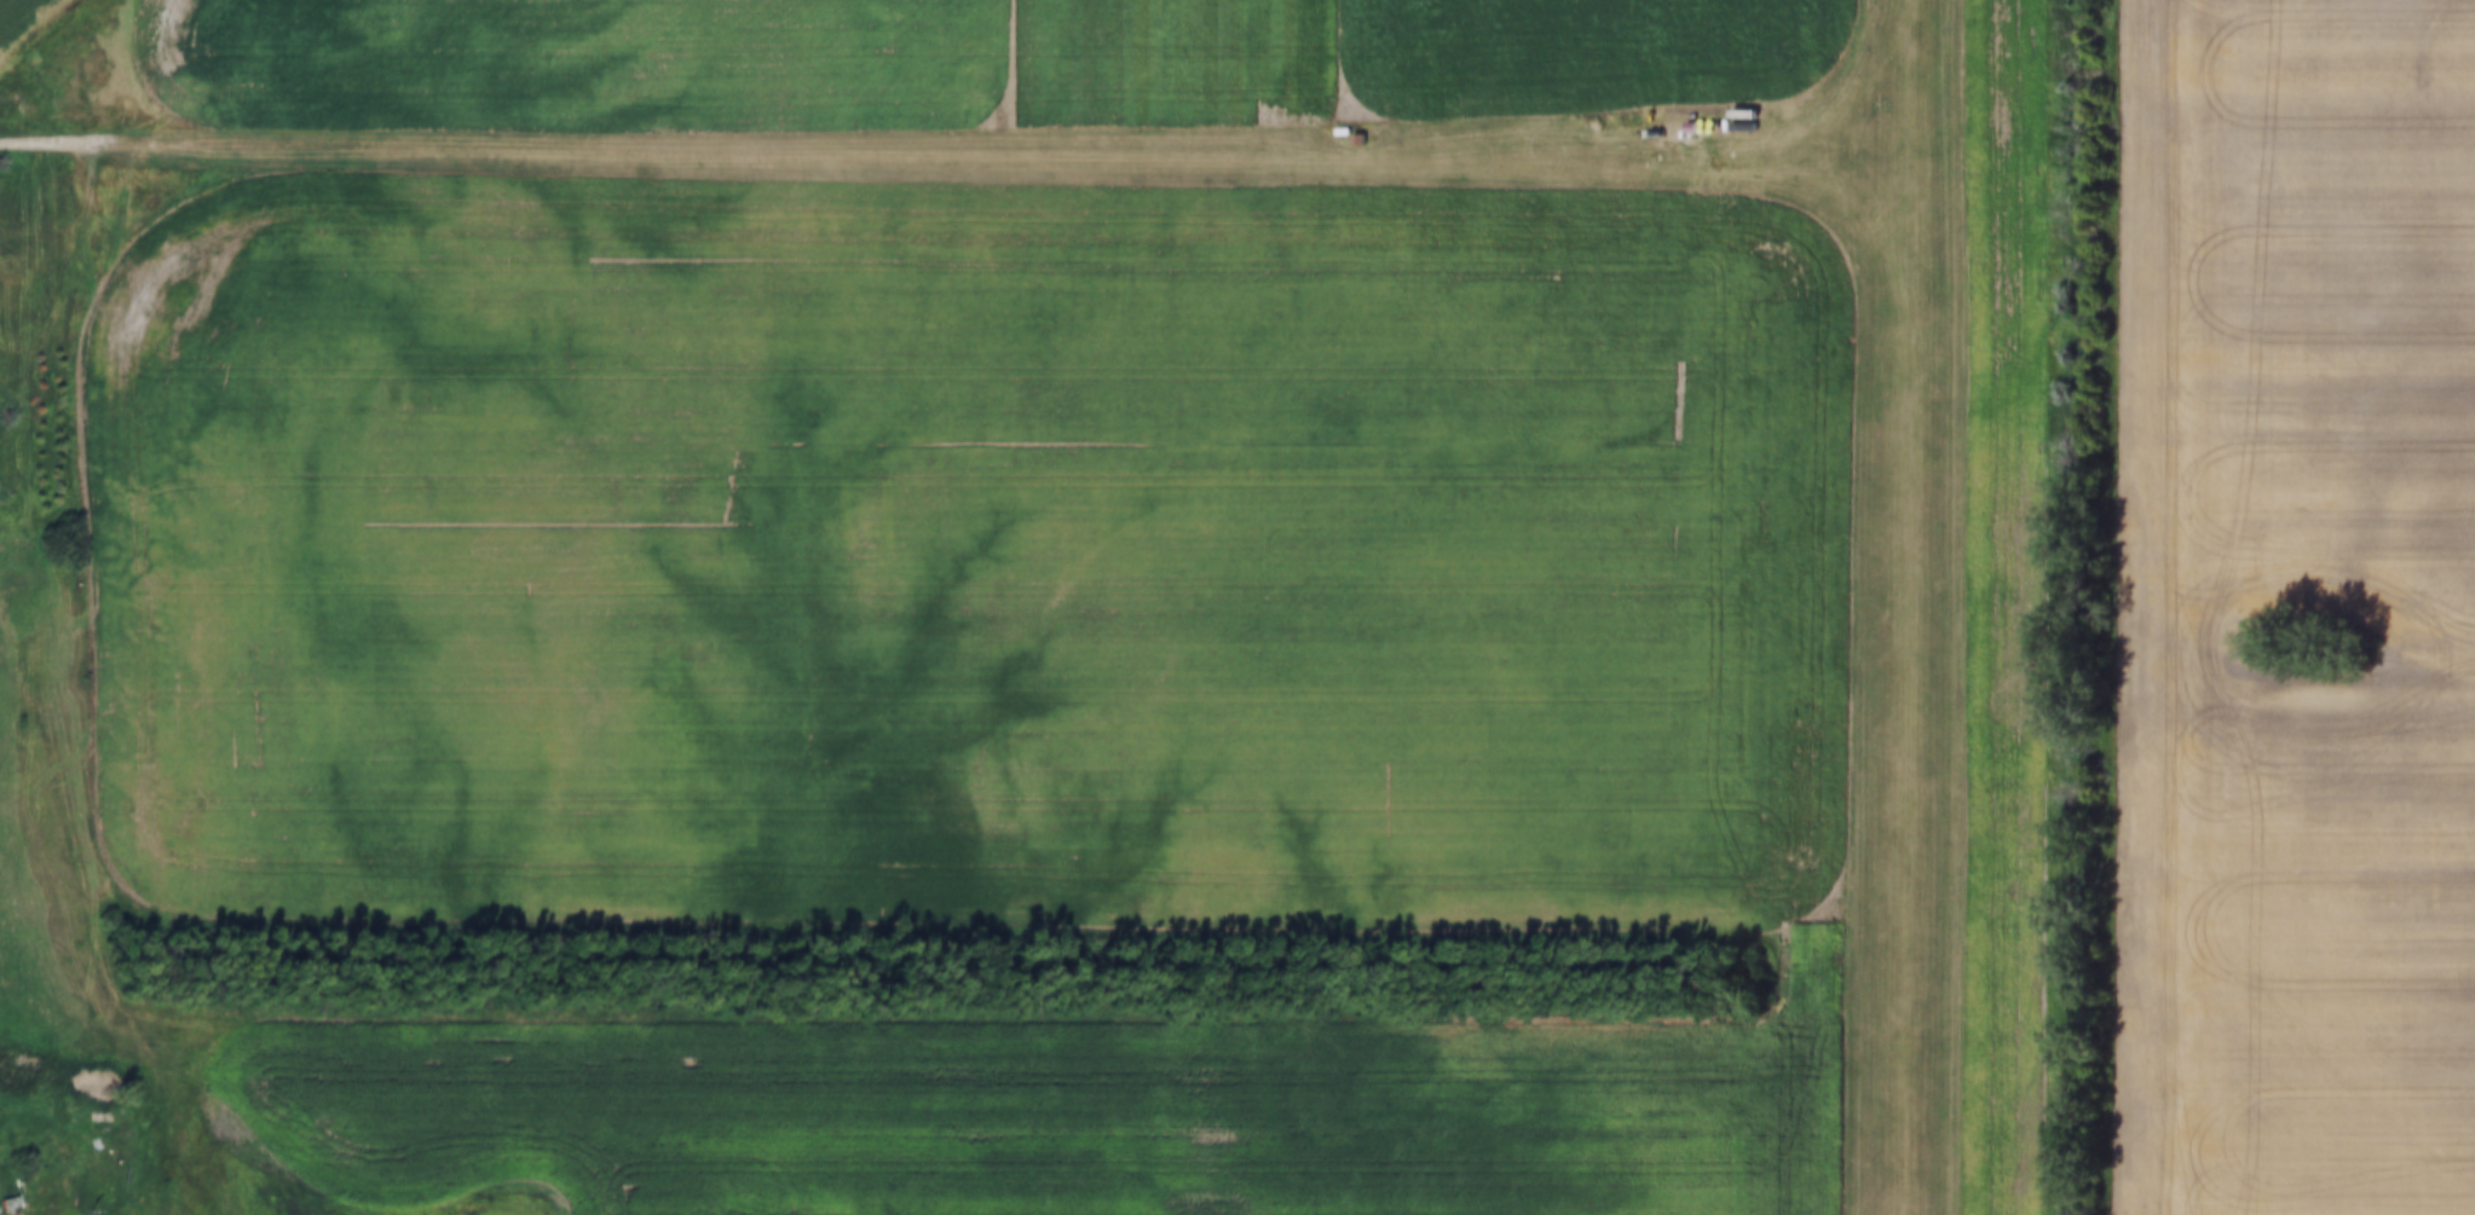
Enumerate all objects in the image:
building: (1744, 123)
road: (42, 143)
road: (998, 151)
airport runway: (1906, 607)
airport: (1909, 607)

